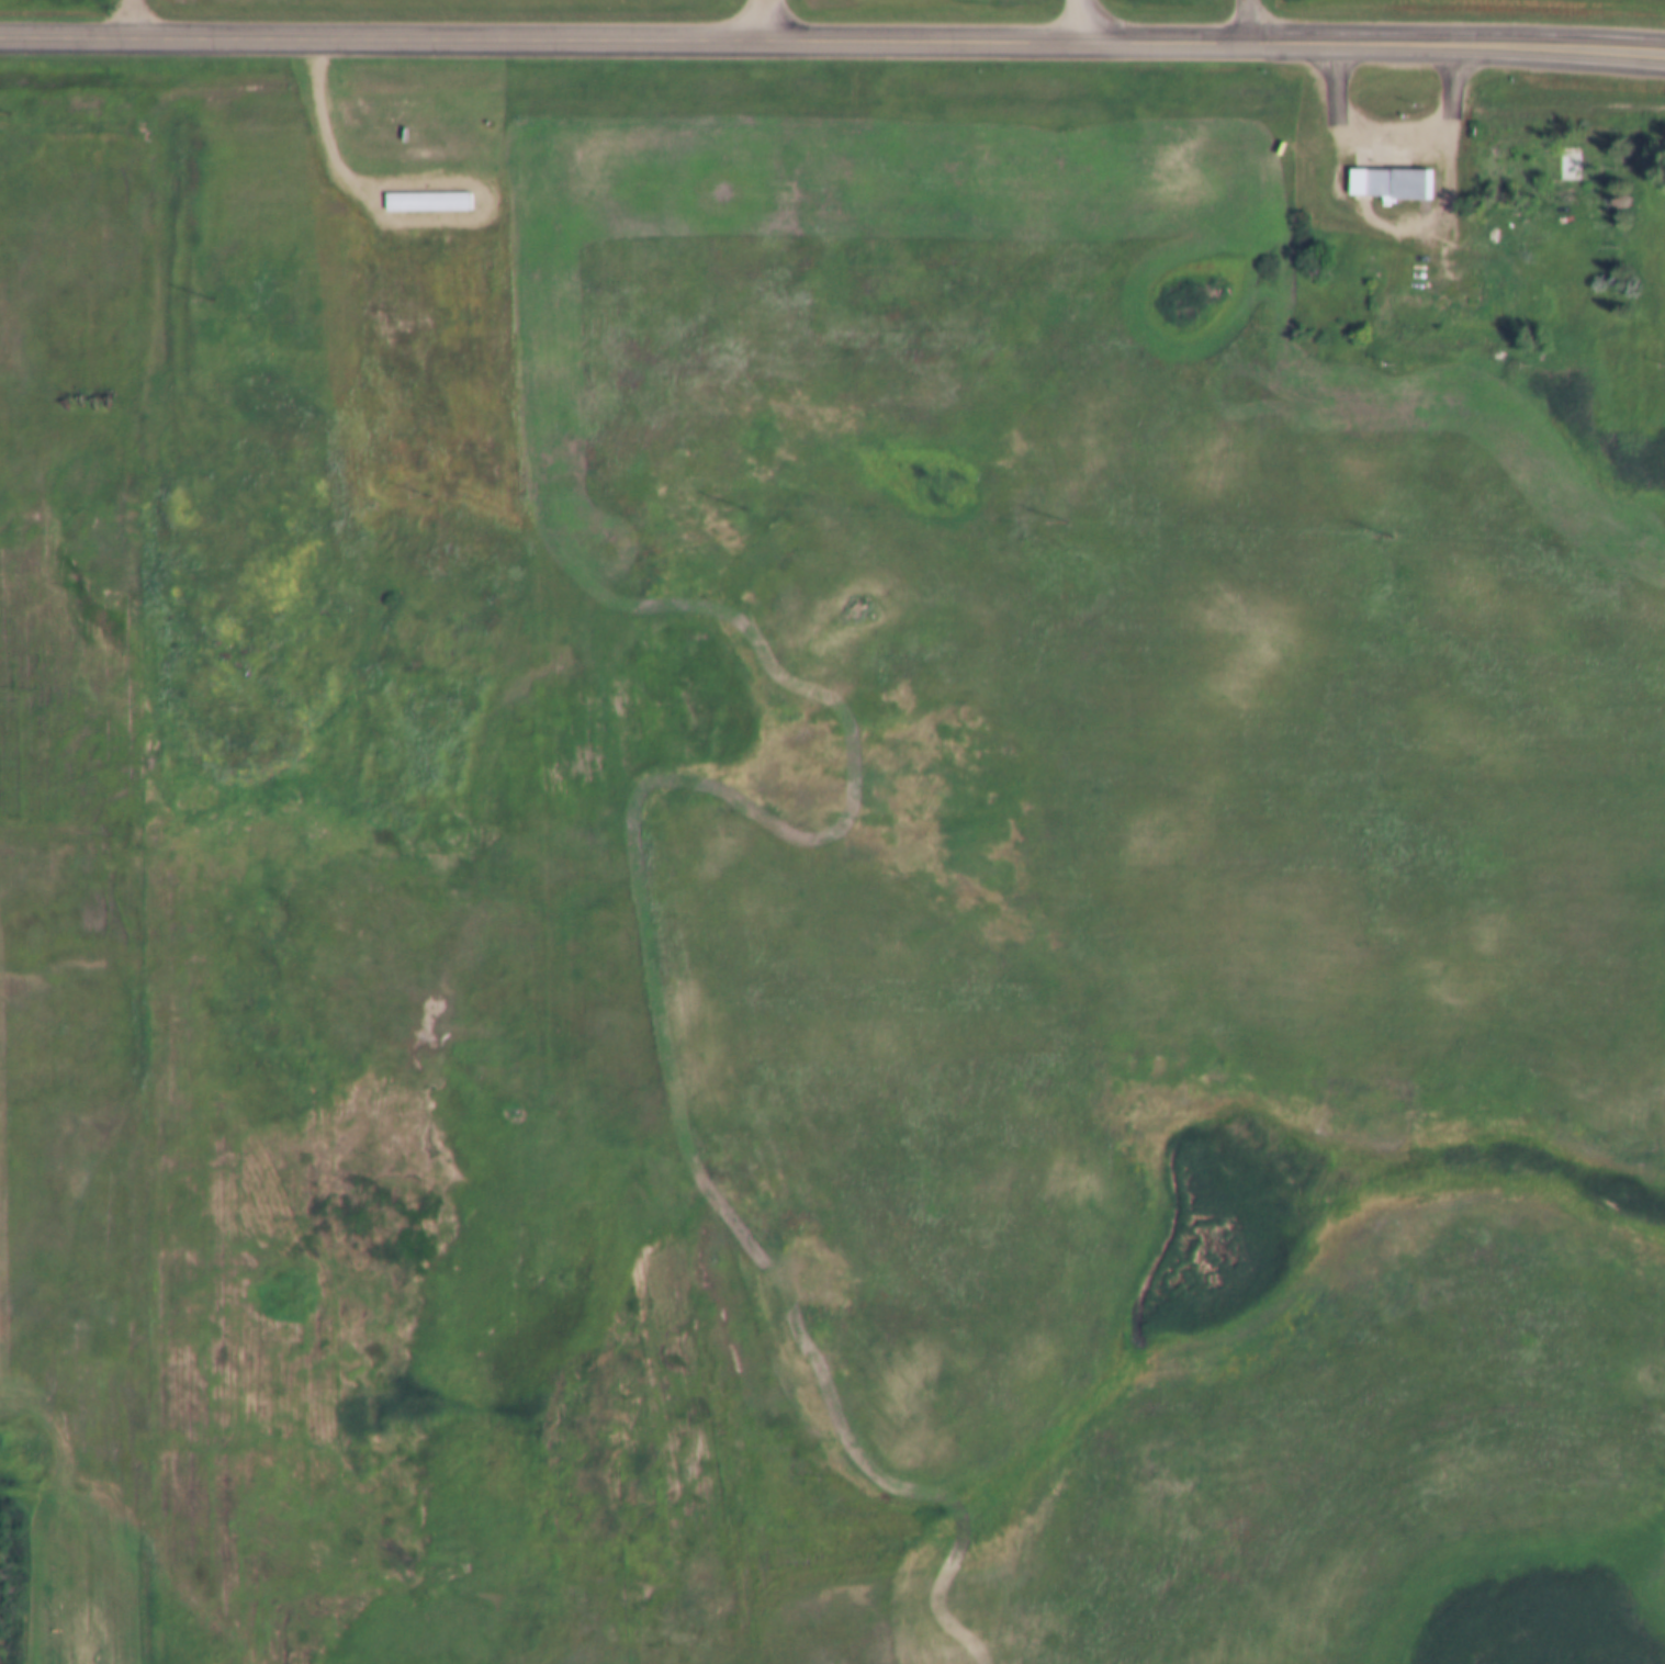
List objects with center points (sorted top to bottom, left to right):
road: (138, 16)
road: (766, 20)
road: (1078, 20)
road: (1247, 20)
road: (832, 40)
road: (1399, 123)
building: (1496, 161)
building: (1560, 167)
building: (1385, 171)
building: (1391, 185)
building: (1497, 294)

